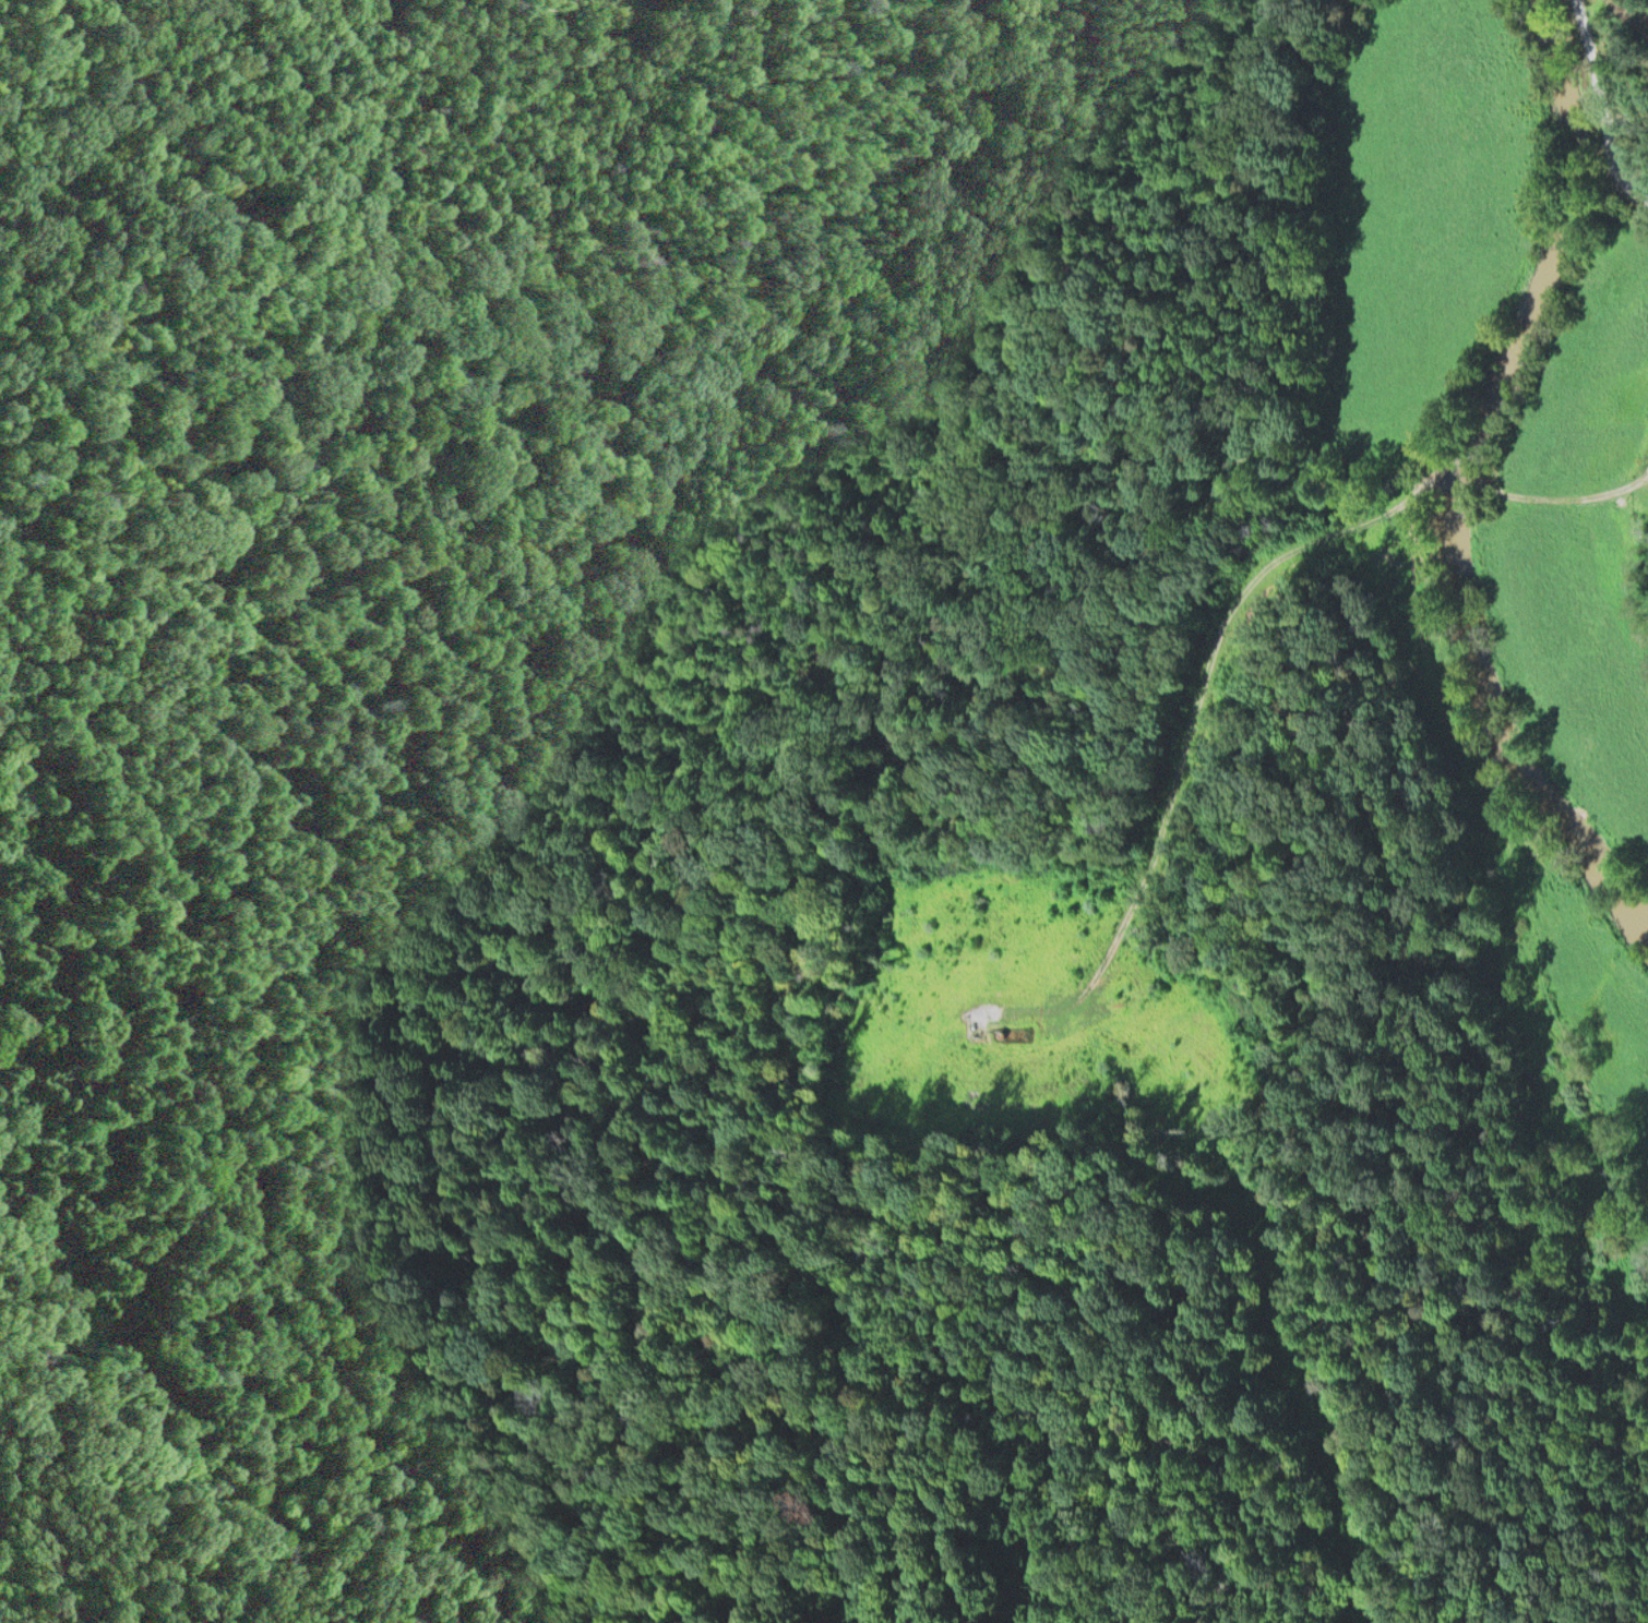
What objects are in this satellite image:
road: (1604, 103)
river: (1465, 468)
road: (1461, 479)
road: (1568, 495)
road: (1186, 736)
road: (1270, 1273)

